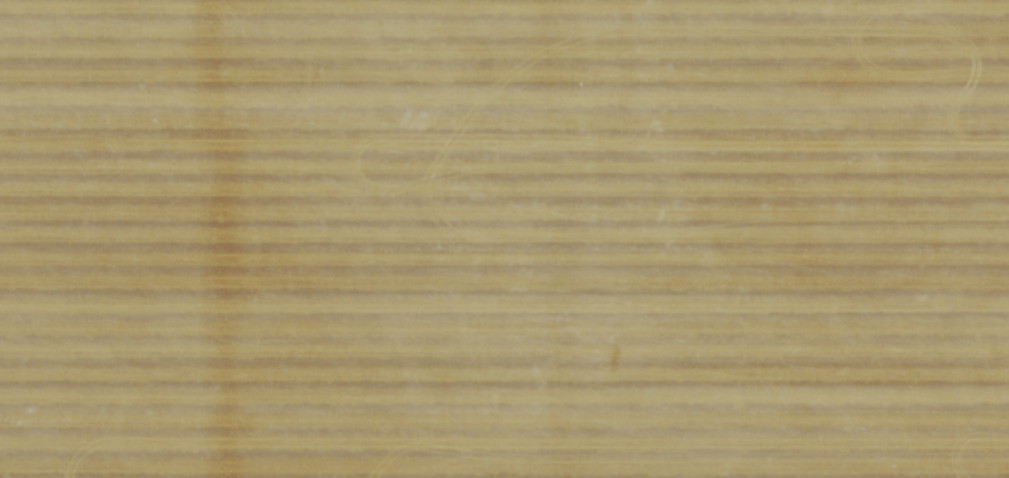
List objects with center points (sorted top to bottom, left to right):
crop: (504, 239)

